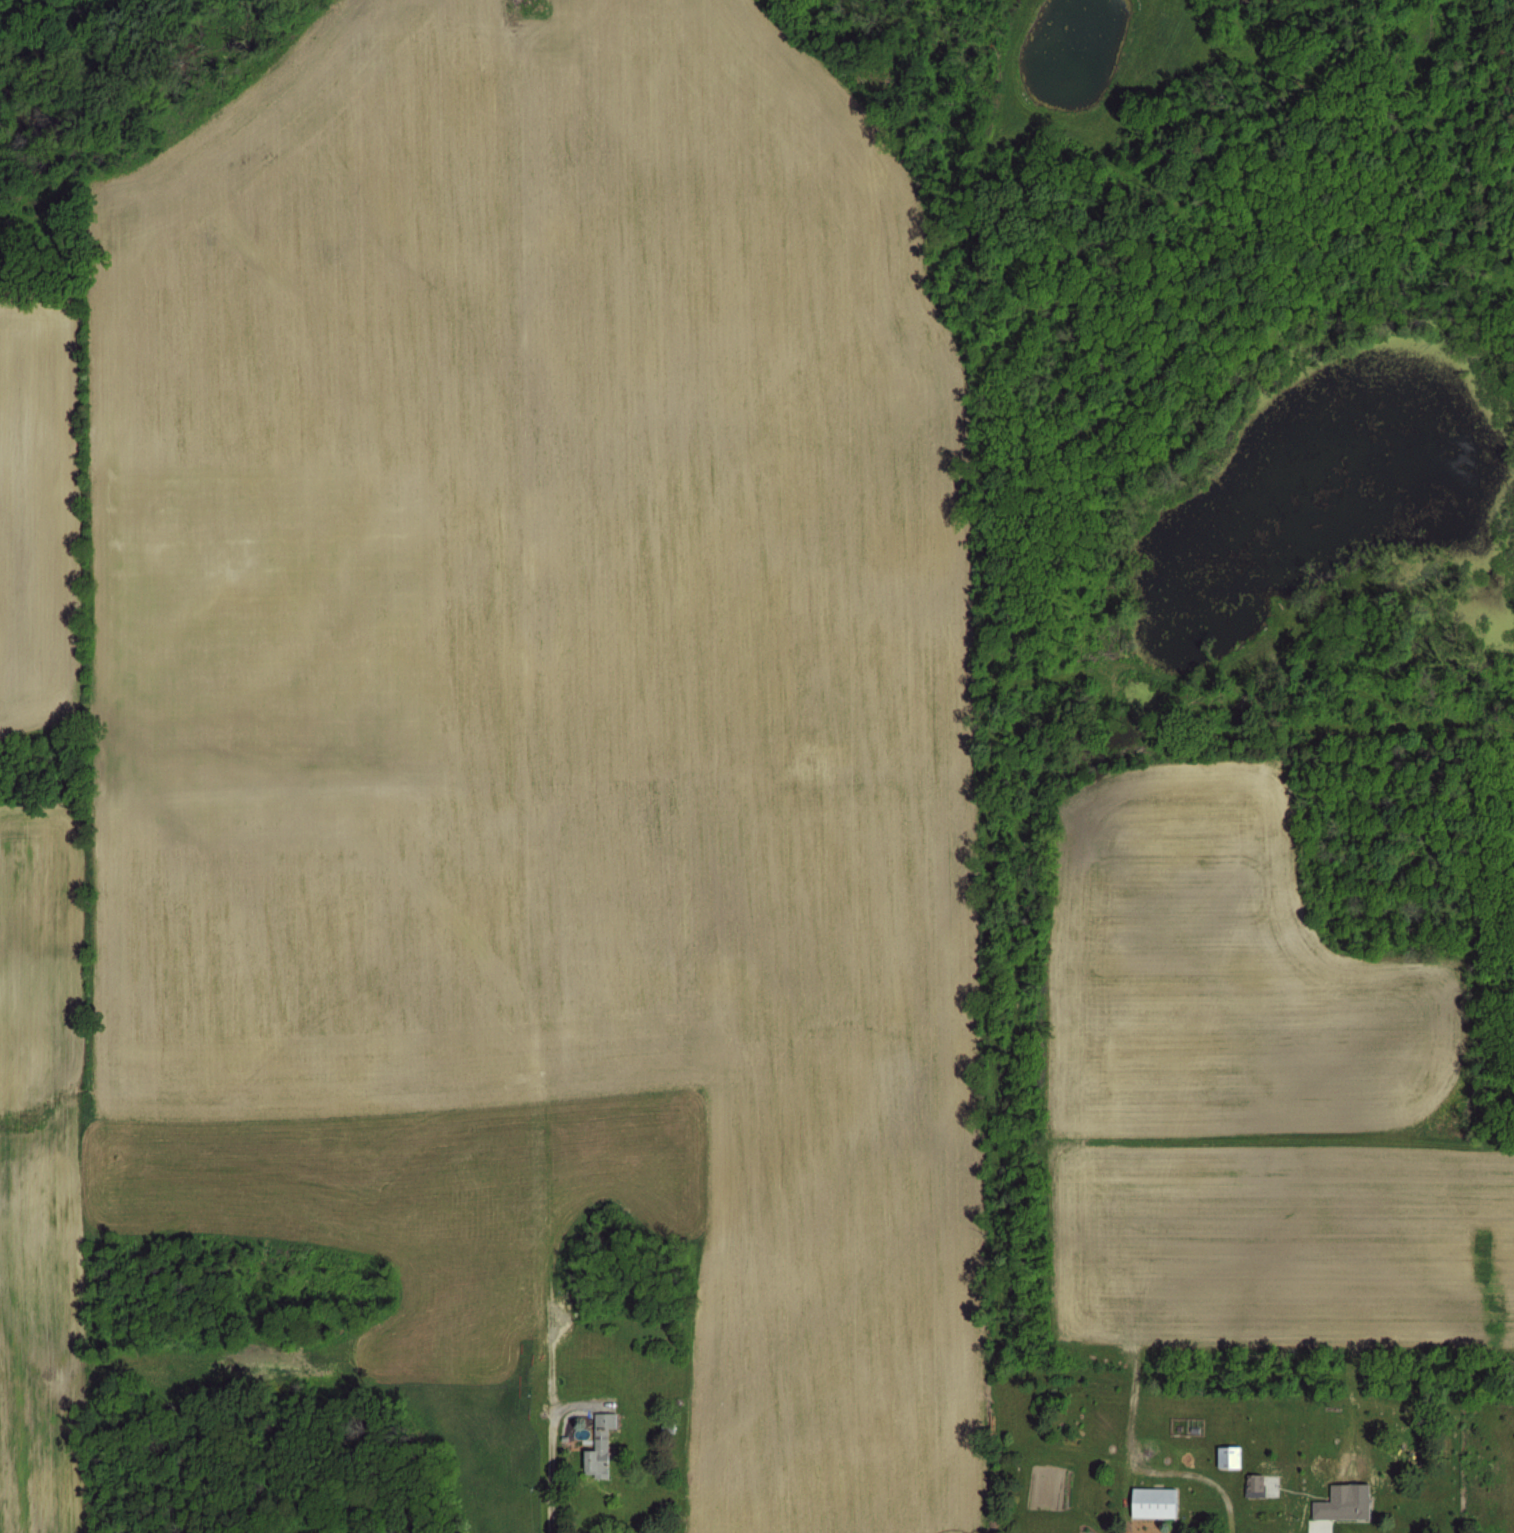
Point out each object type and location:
crop: (757, 766)
building: (474, 1375)
building: (547, 1391)
building: (598, 1430)
road: (550, 1453)
building: (1223, 1456)
building: (1259, 1483)
road: (1223, 1491)
building: (1149, 1499)
building: (1334, 1505)

